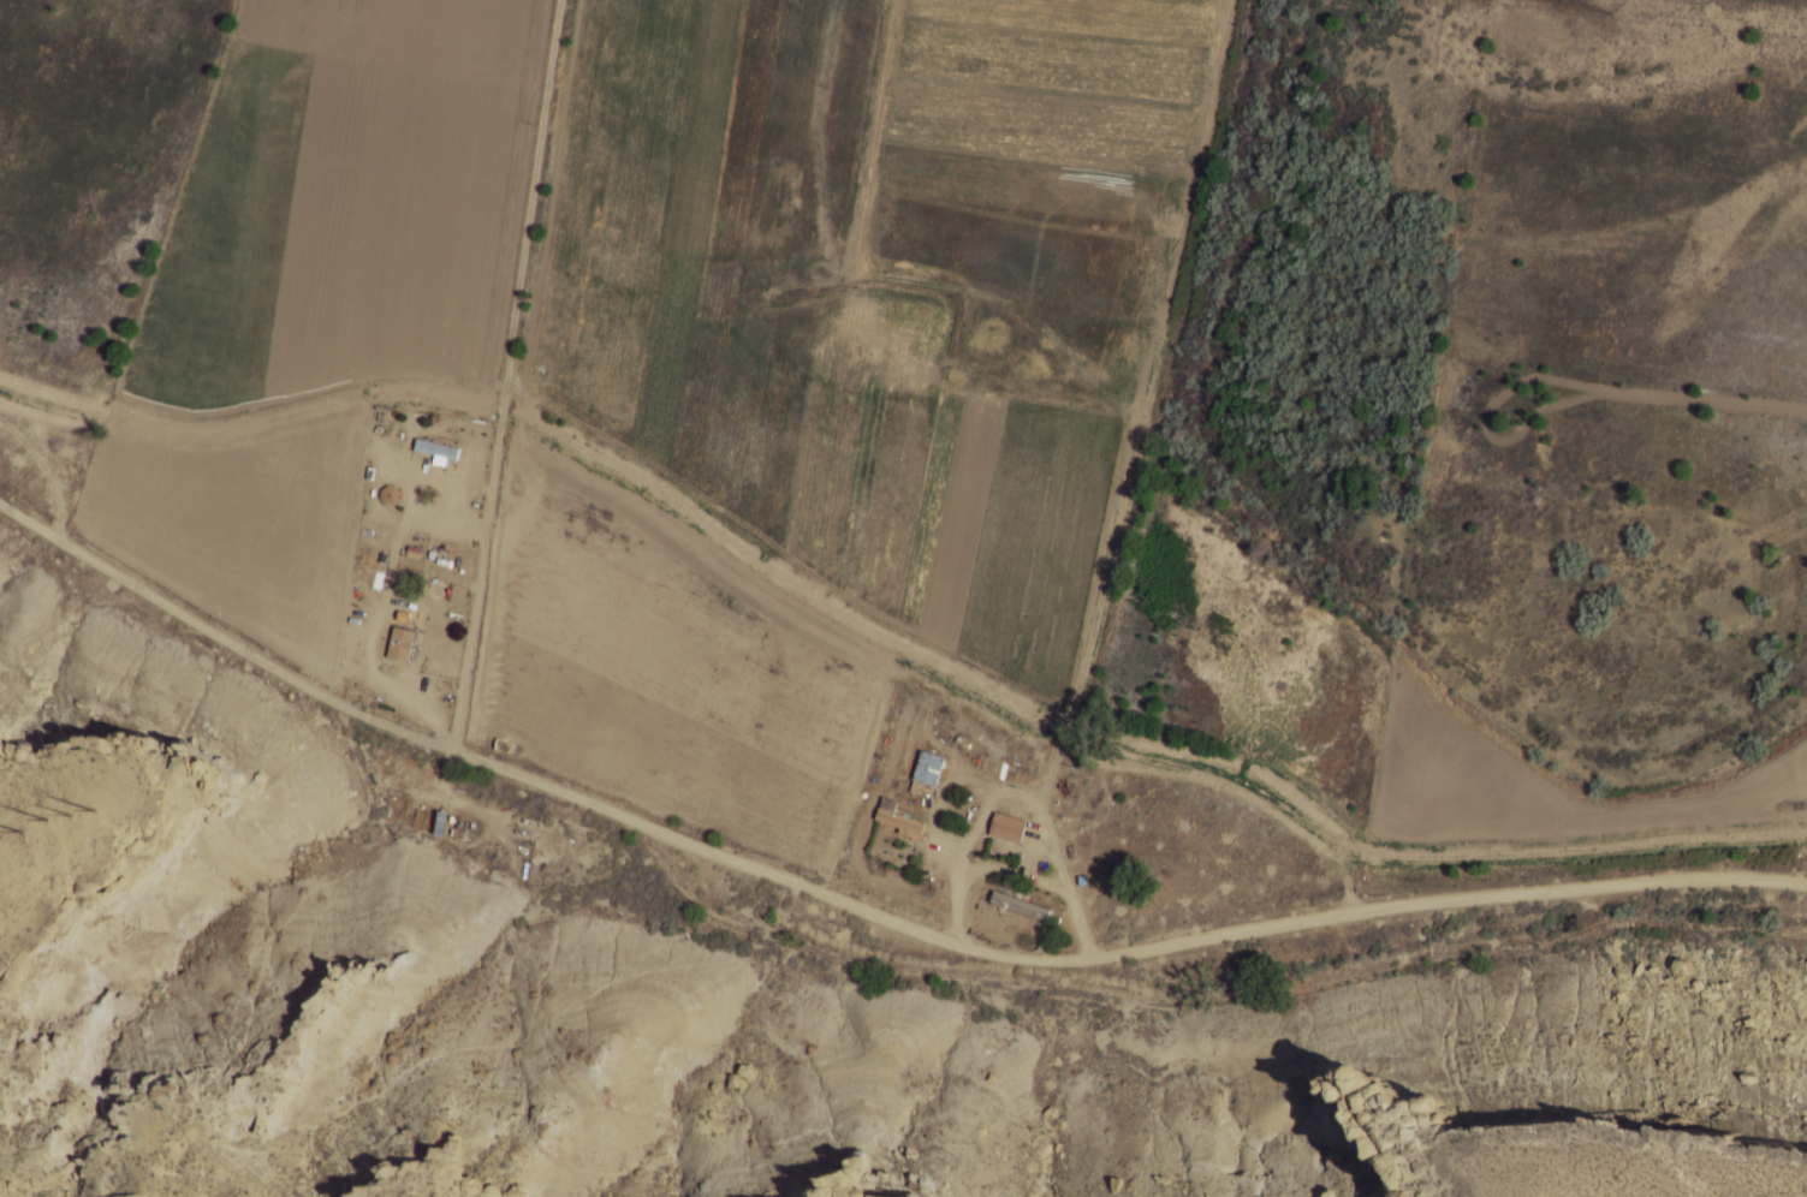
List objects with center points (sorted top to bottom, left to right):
road: (509, 376)
building: (436, 448)
building: (393, 494)
building: (400, 643)
building: (927, 772)
power tower: (64, 812)
building: (898, 818)
building: (445, 824)
building: (1007, 827)
building: (1020, 906)
road: (861, 910)

